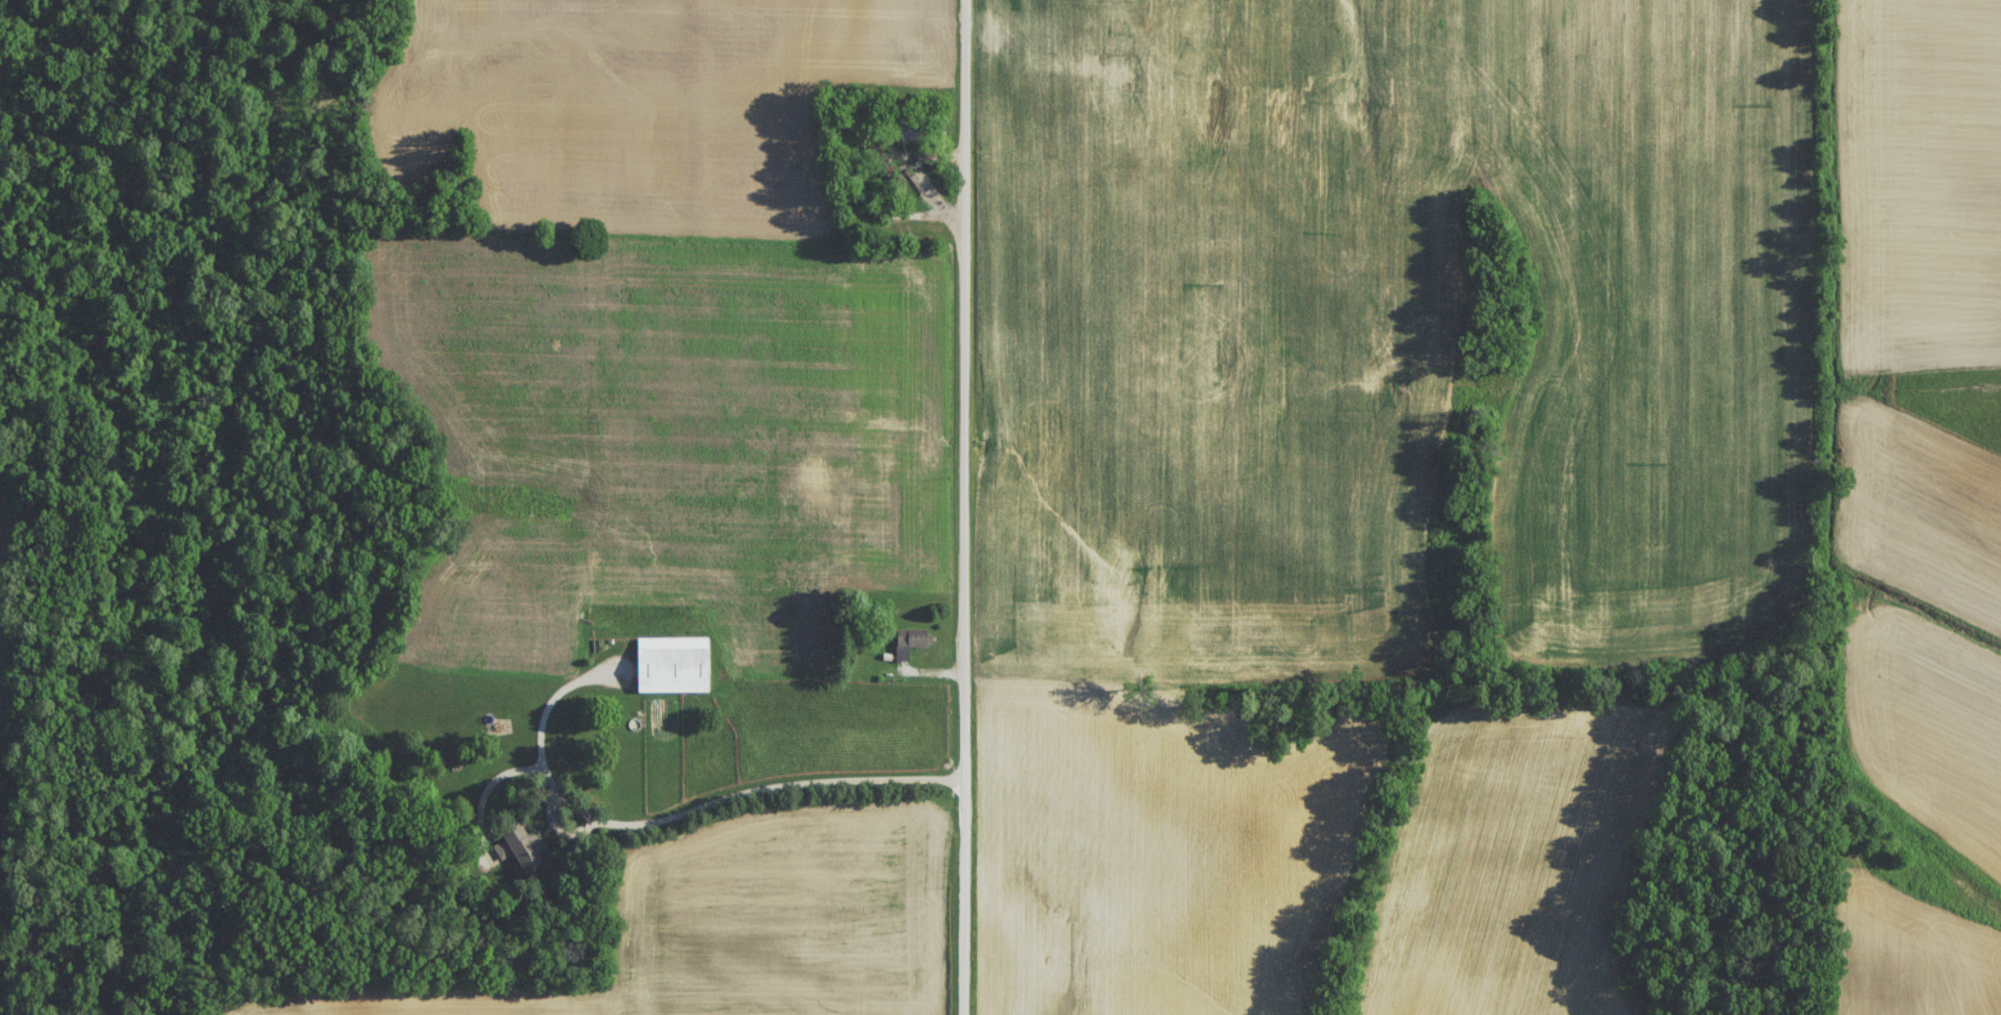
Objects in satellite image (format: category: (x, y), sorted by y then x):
road: (961, 507)
building: (909, 647)
building: (673, 670)
road: (754, 791)
building: (518, 850)

